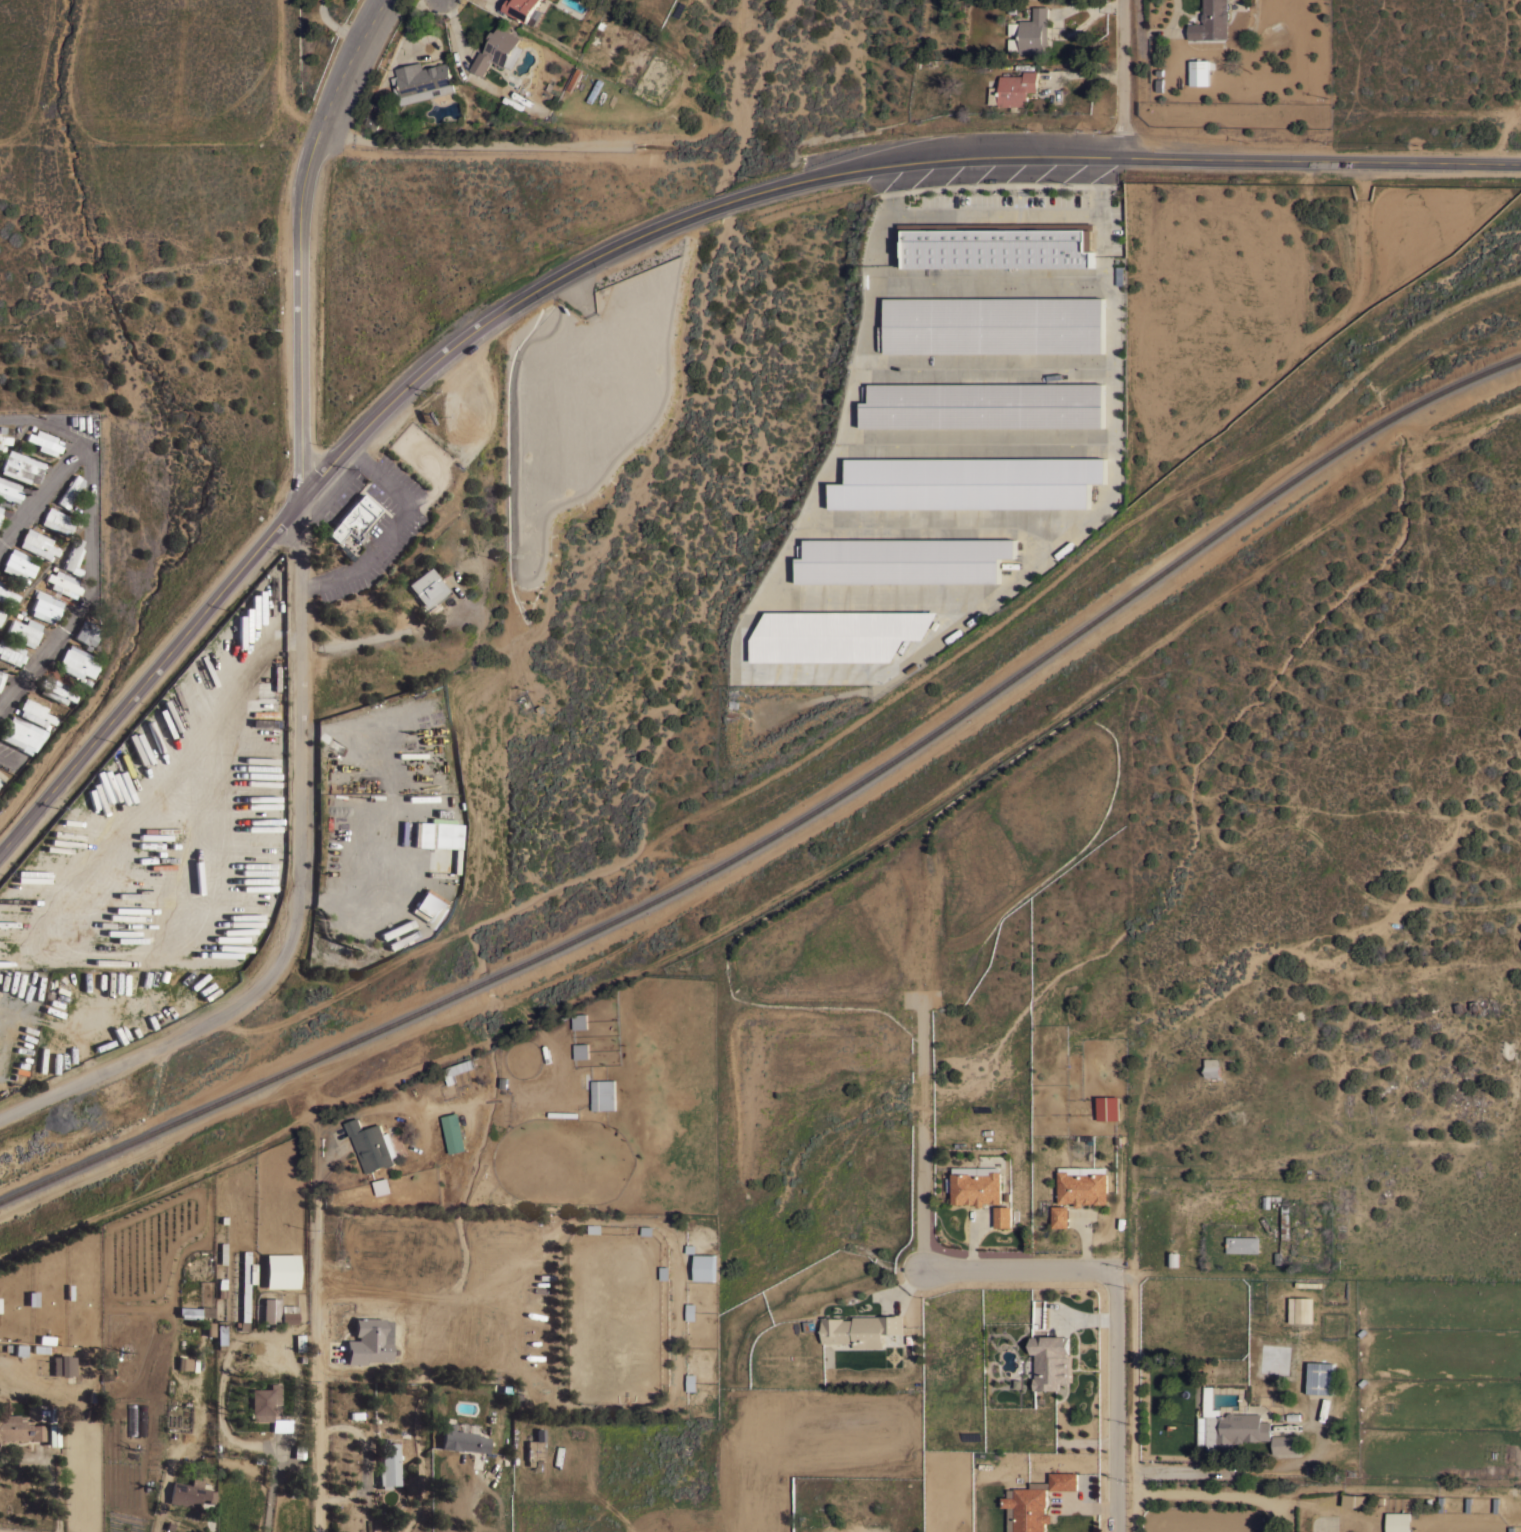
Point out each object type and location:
building: (524, 10)
building: (1211, 20)
road: (335, 28)
building: (1034, 30)
building: (635, 35)
building: (495, 49)
building: (512, 55)
building: (1198, 72)
road: (1123, 76)
building: (421, 81)
building: (1018, 87)
road: (1130, 152)
road: (713, 206)
road: (1004, 215)
building: (996, 244)
building: (1119, 275)
building: (995, 324)
building: (984, 404)
road: (44, 426)
building: (4, 439)
building: (43, 441)
building: (2, 447)
building: (21, 466)
building: (967, 483)
building: (9, 490)
building: (69, 490)
road: (307, 493)
road: (43, 494)
building: (0, 507)
building: (353, 519)
building: (56, 521)
road: (395, 529)
building: (37, 544)
building: (73, 557)
building: (902, 561)
building: (17, 565)
building: (0, 583)
building: (63, 583)
building: (426, 587)
road: (90, 588)
building: (7, 595)
building: (45, 606)
building: (1, 614)
building: (24, 630)
building: (86, 633)
building: (837, 635)
road: (304, 637)
building: (11, 652)
building: (76, 663)
building: (2, 675)
building: (55, 690)
building: (34, 713)
building: (21, 734)
road: (5, 761)
building: (0, 781)
railway: (786, 825)
building: (437, 839)
building: (430, 908)
building: (578, 1022)
building: (579, 1051)
building: (1212, 1066)
building: (460, 1068)
building: (603, 1095)
building: (1107, 1107)
building: (454, 1132)
building: (372, 1145)
building: (254, 1174)
building: (1082, 1187)
building: (975, 1188)
building: (1270, 1199)
building: (1002, 1216)
building: (1060, 1216)
building: (1284, 1222)
building: (1242, 1244)
building: (222, 1253)
building: (1173, 1259)
building: (705, 1267)
building: (281, 1270)
building: (221, 1287)
building: (246, 1288)
building: (32, 1298)
road: (1116, 1305)
building: (271, 1310)
building: (1299, 1310)
building: (690, 1311)
building: (194, 1312)
building: (288, 1314)
building: (861, 1329)
building: (220, 1334)
building: (891, 1339)
building: (369, 1340)
building: (300, 1342)
building: (42, 1348)
building: (1050, 1362)
building: (184, 1363)
building: (63, 1365)
road: (317, 1366)
building: (1320, 1377)
building: (691, 1381)
building: (263, 1402)
building: (281, 1424)
building: (1228, 1425)
building: (20, 1429)
building: (461, 1440)
building: (1285, 1443)
building: (535, 1450)
building: (388, 1464)
building: (189, 1493)
road: (1200, 1493)
building: (1354, 1500)
building: (1034, 1503)
building: (1397, 1521)

